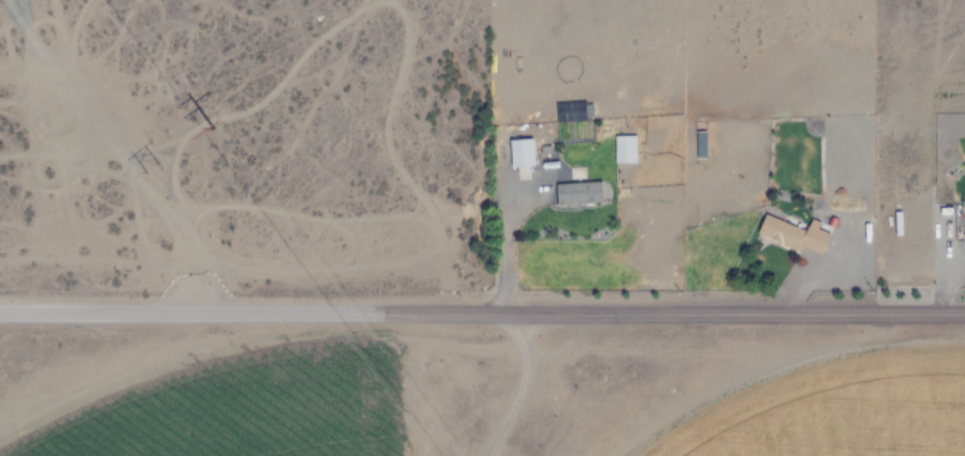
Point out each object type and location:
road: (78, 21)
road: (438, 35)
road: (60, 41)
road: (256, 98)
power tower: (214, 128)
building: (700, 144)
road: (56, 145)
road: (385, 146)
road: (119, 151)
building: (521, 152)
power tower: (155, 166)
building: (578, 193)
road: (137, 212)
road: (310, 216)
building: (963, 223)
building: (793, 235)
road: (345, 236)
road: (505, 255)
road: (279, 264)
parking lot: (192, 283)
road: (482, 313)

